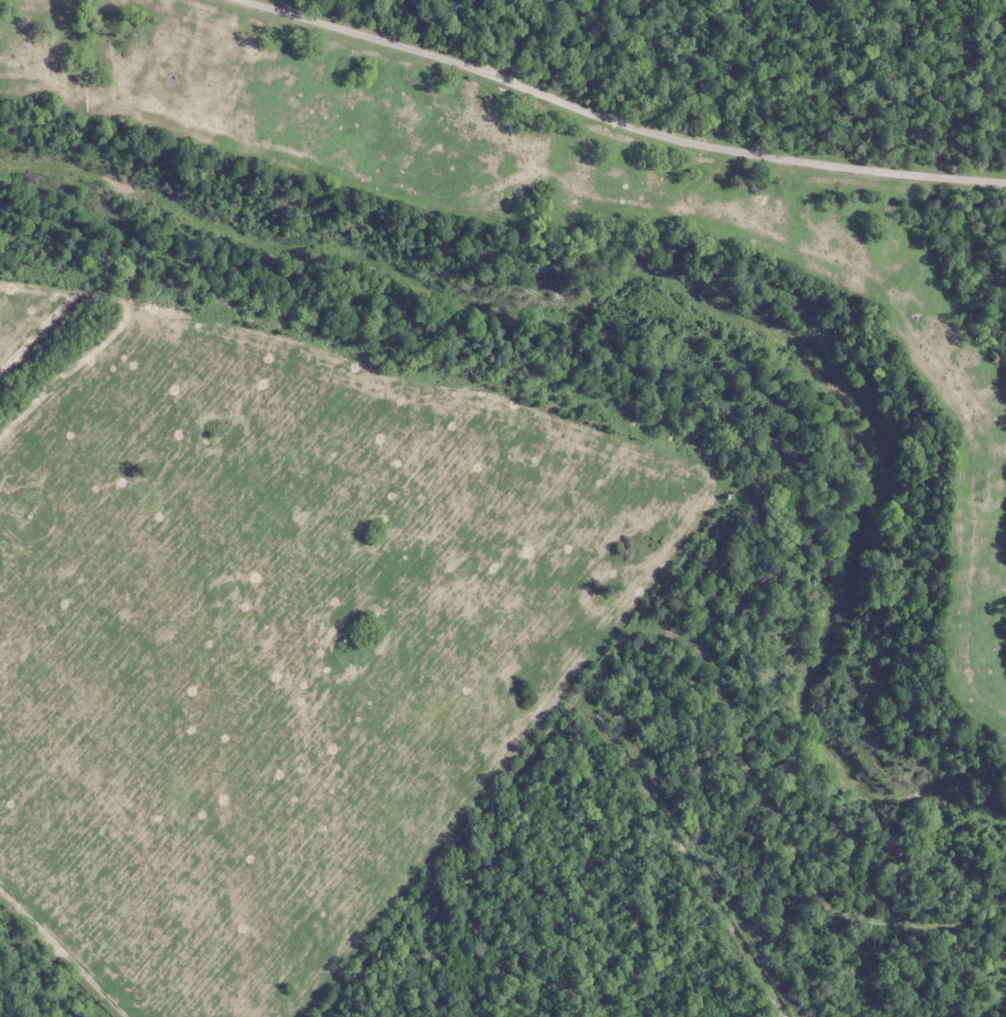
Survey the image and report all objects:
road: (568, 134)
river: (705, 299)

